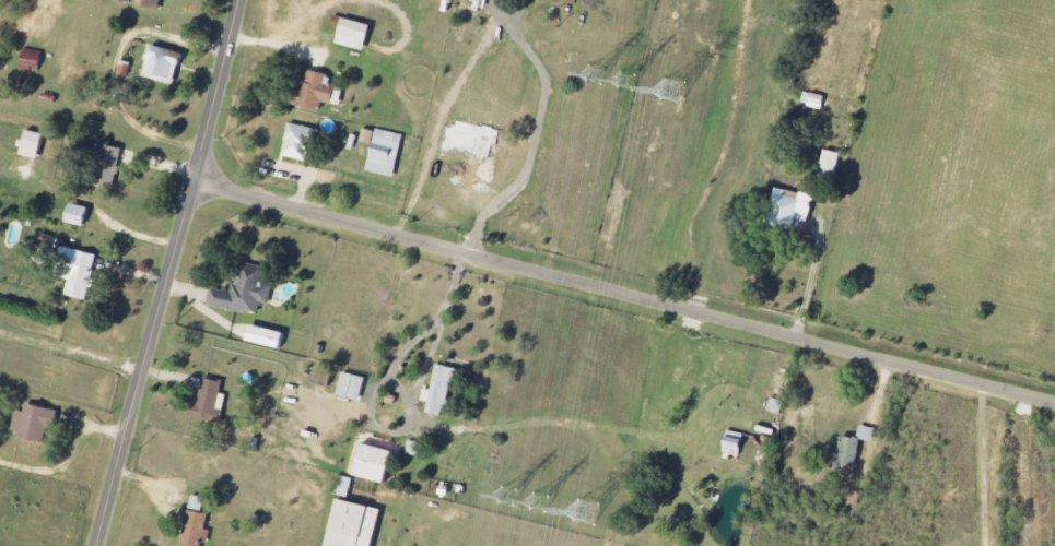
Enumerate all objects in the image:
building: (144, 3)
building: (354, 34)
road: (518, 34)
building: (32, 60)
building: (162, 62)
power tower: (597, 75)
power tower: (629, 83)
building: (315, 91)
power tower: (669, 91)
building: (816, 102)
building: (367, 136)
building: (300, 143)
building: (33, 145)
building: (385, 153)
building: (830, 165)
building: (109, 166)
building: (792, 209)
building: (78, 215)
building: (77, 271)
road: (169, 273)
road: (808, 289)
building: (244, 290)
road: (624, 295)
building: (266, 337)
building: (323, 376)
road: (401, 384)
building: (438, 391)
building: (209, 402)
road: (374, 403)
building: (34, 423)
building: (415, 449)
building: (848, 452)
building: (375, 464)
road: (981, 466)
power tower: (511, 498)
building: (198, 503)
power tower: (542, 505)
power tower: (588, 515)
building: (354, 525)
building: (195, 529)

